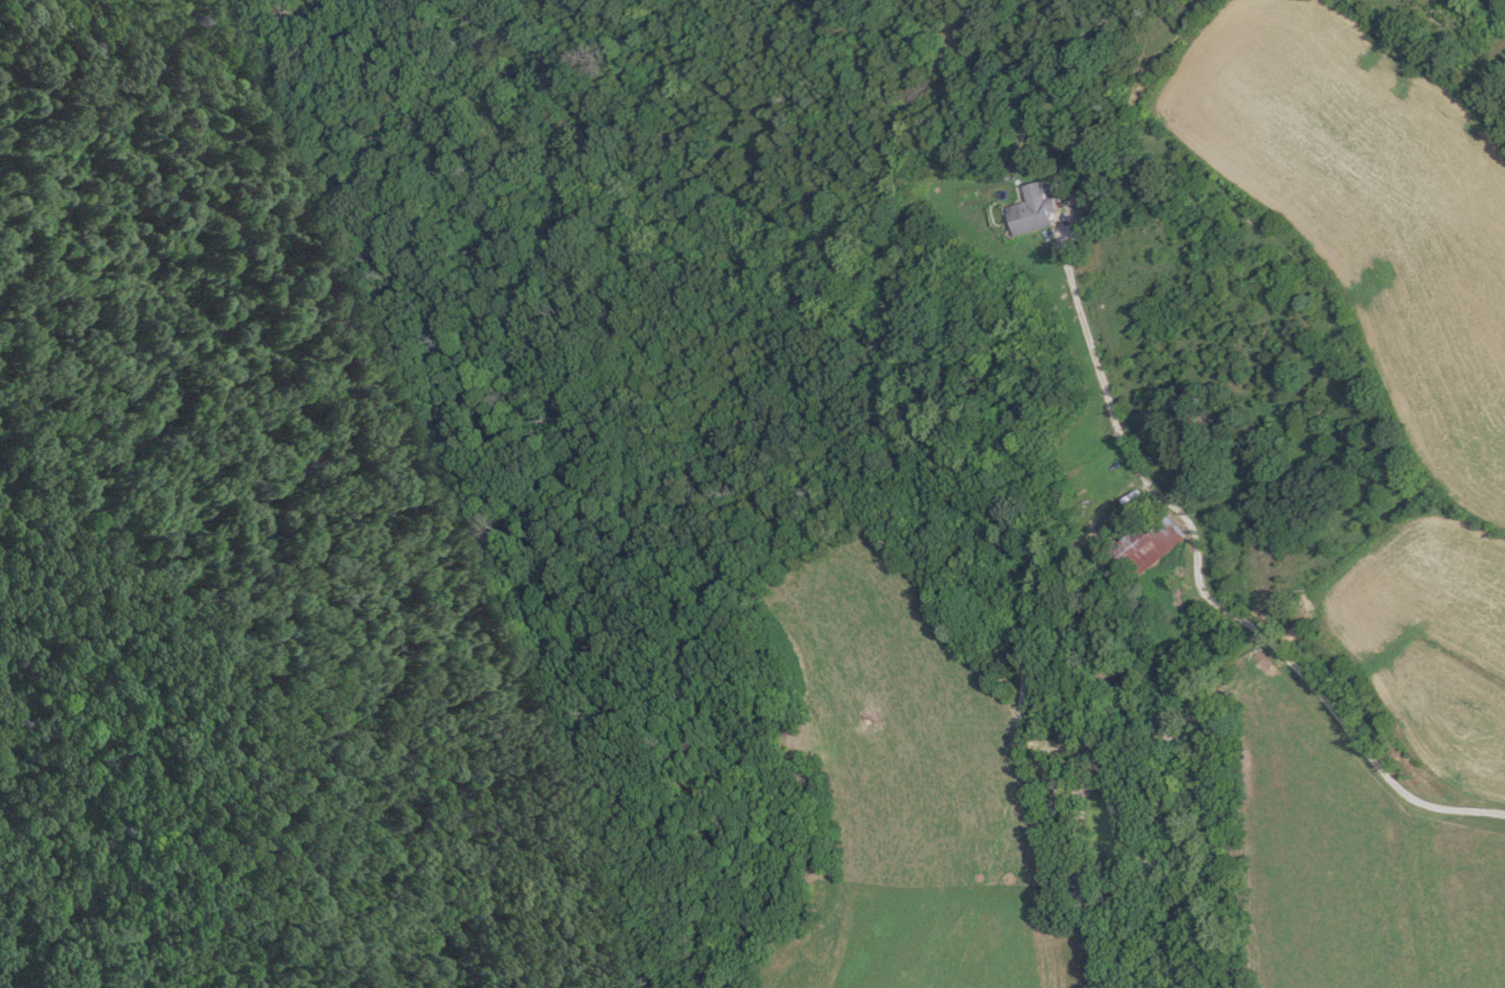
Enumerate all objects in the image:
building: (1034, 210)
road: (1101, 507)
building: (1148, 543)
road: (1206, 595)

